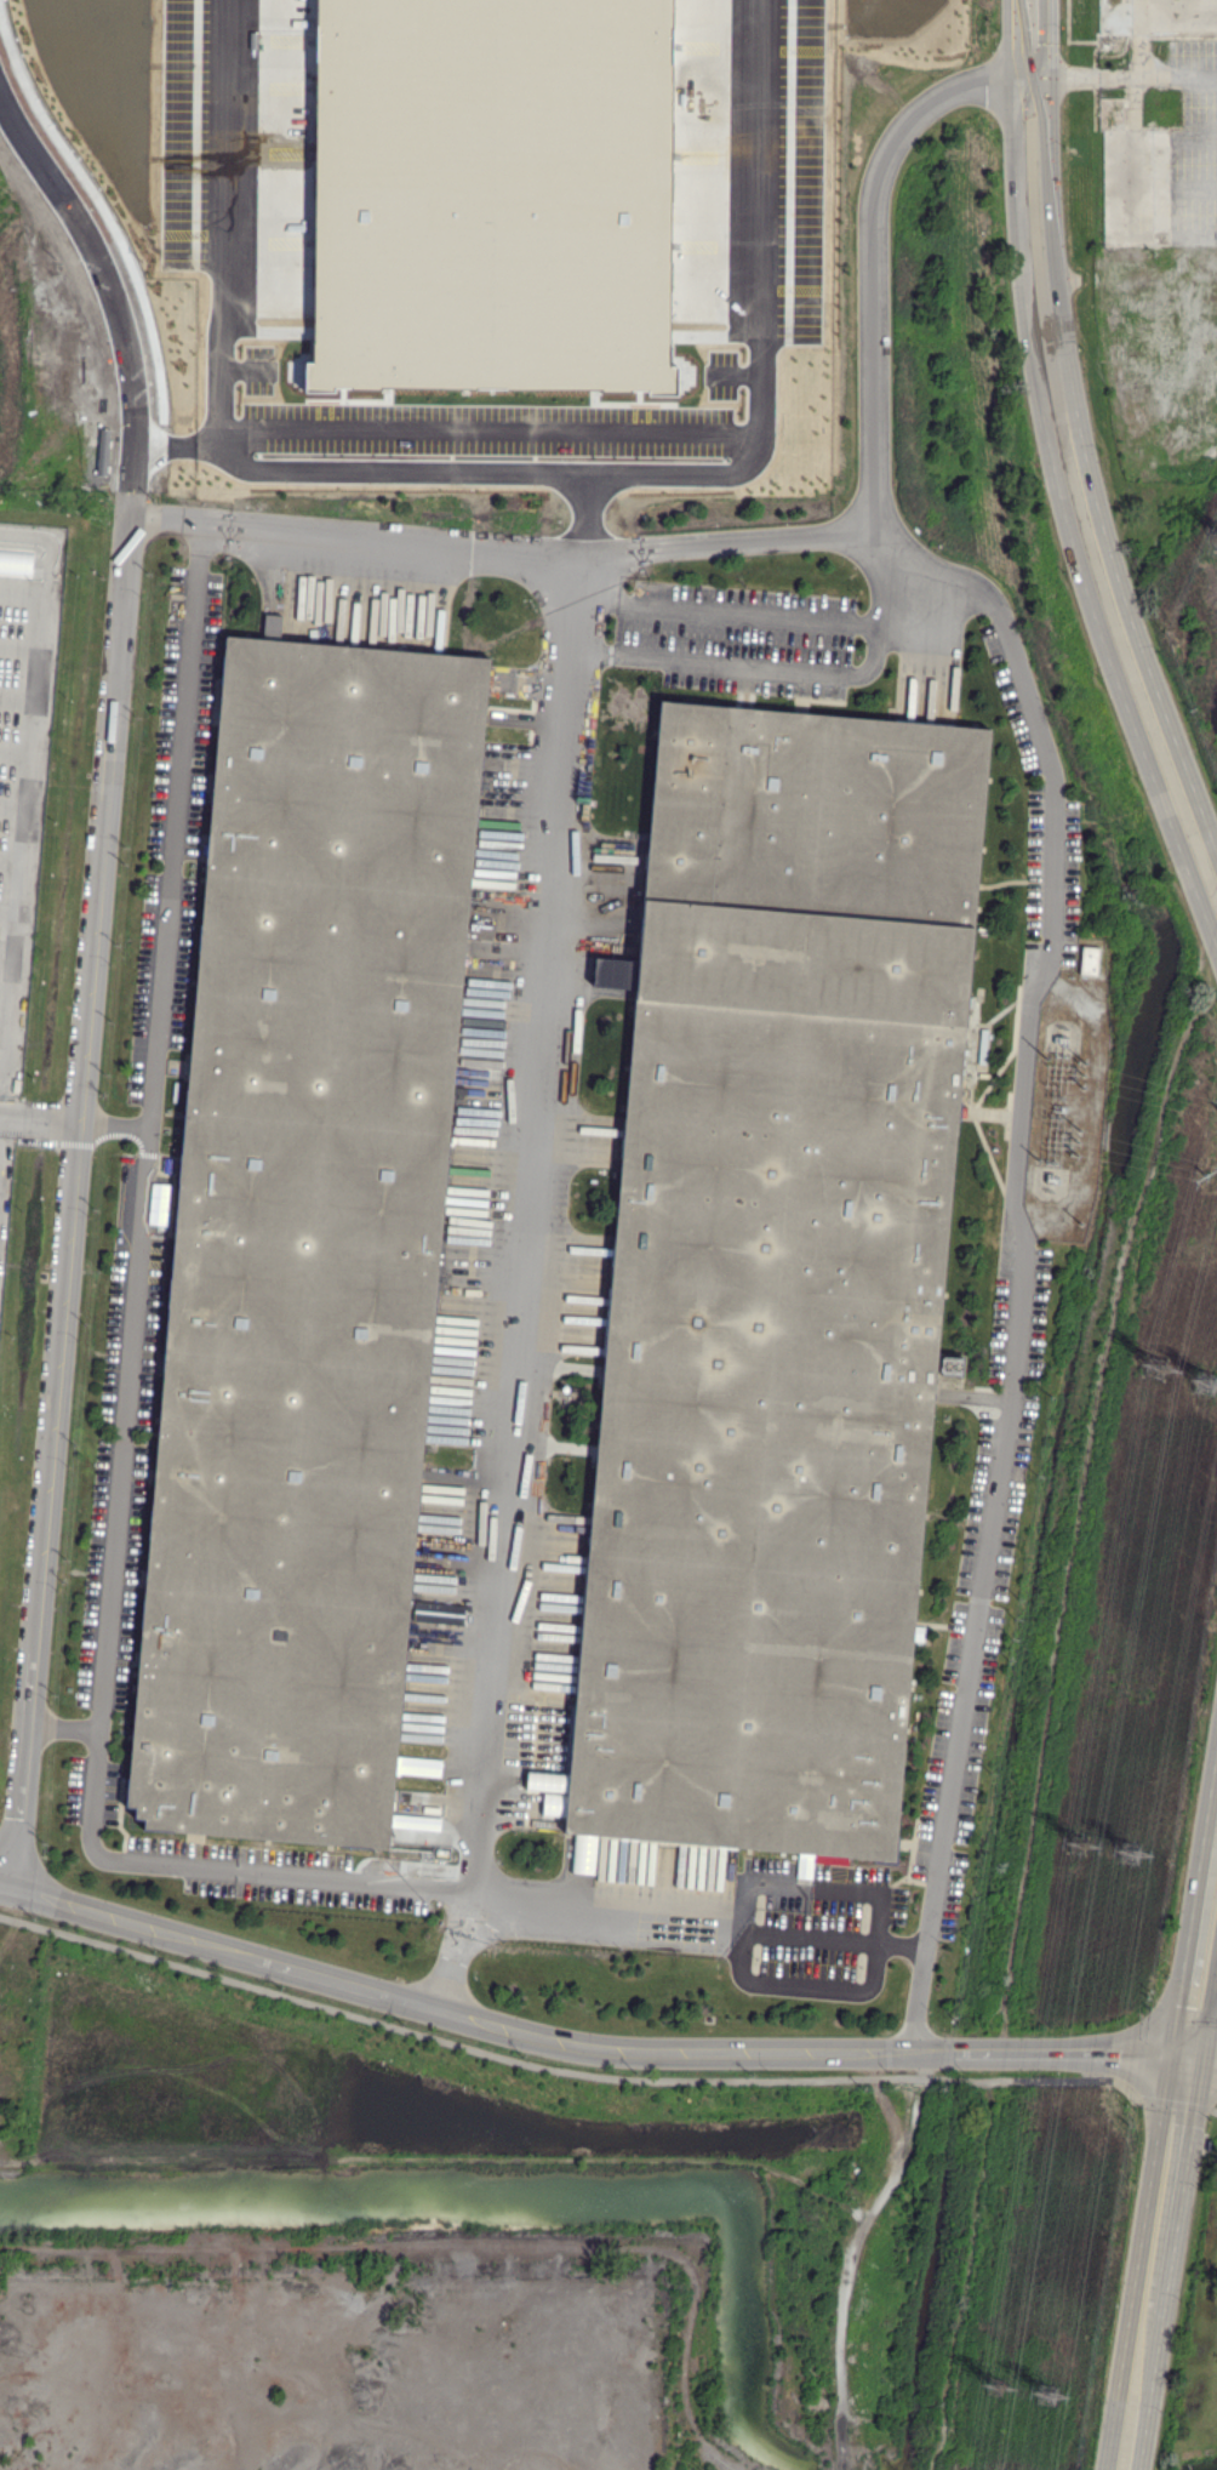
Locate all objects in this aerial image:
road: (1122, 81)
parking lot: (183, 133)
parking lot: (799, 172)
building: (498, 199)
road: (223, 261)
road: (110, 286)
road: (872, 302)
road: (762, 352)
parking lot: (257, 367)
parking lot: (721, 375)
parking lot: (484, 429)
road: (1068, 458)
road: (393, 469)
road: (17, 591)
building: (270, 626)
parking lot: (737, 638)
road: (878, 644)
road: (16, 646)
parking lot: (1019, 694)
road: (13, 700)
road: (11, 751)
road: (21, 761)
parking lot: (22, 785)
road: (8, 804)
parking lot: (175, 826)
road: (102, 827)
road: (6, 856)
parking lot: (1050, 882)
road: (4, 912)
building: (1089, 960)
road: (2, 964)
building: (613, 972)
power substation: (1069, 1111)
power tower: (1216, 1113)
road: (76, 1123)
road: (113, 1126)
power tower: (1201, 1177)
road: (1013, 1202)
building: (305, 1238)
building: (779, 1278)
road: (520, 1283)
building: (950, 1364)
power tower: (1167, 1364)
road: (127, 1375)
power tower: (1211, 1387)
parking lot: (122, 1430)
road: (1087, 1491)
parking lot: (982, 1581)
road: (62, 1729)
parking lot: (91, 1789)
power tower: (1135, 1850)
power tower: (1090, 1852)
parking lot: (286, 1873)
road: (606, 1919)
parking lot: (812, 1929)
road: (810, 1936)
road: (901, 1944)
road: (1200, 1951)
road: (873, 1978)
road: (916, 2000)
road: (581, 2046)
road: (995, 2054)
traffic signals: (1183, 2055)
road: (1200, 2060)
road: (561, 2071)
road: (1172, 2103)
road: (1212, 2110)
road: (1165, 2179)
road: (961, 2270)
park: (1195, 2338)
power tower: (995, 2385)
road: (1133, 2386)
power tower: (1051, 2389)

